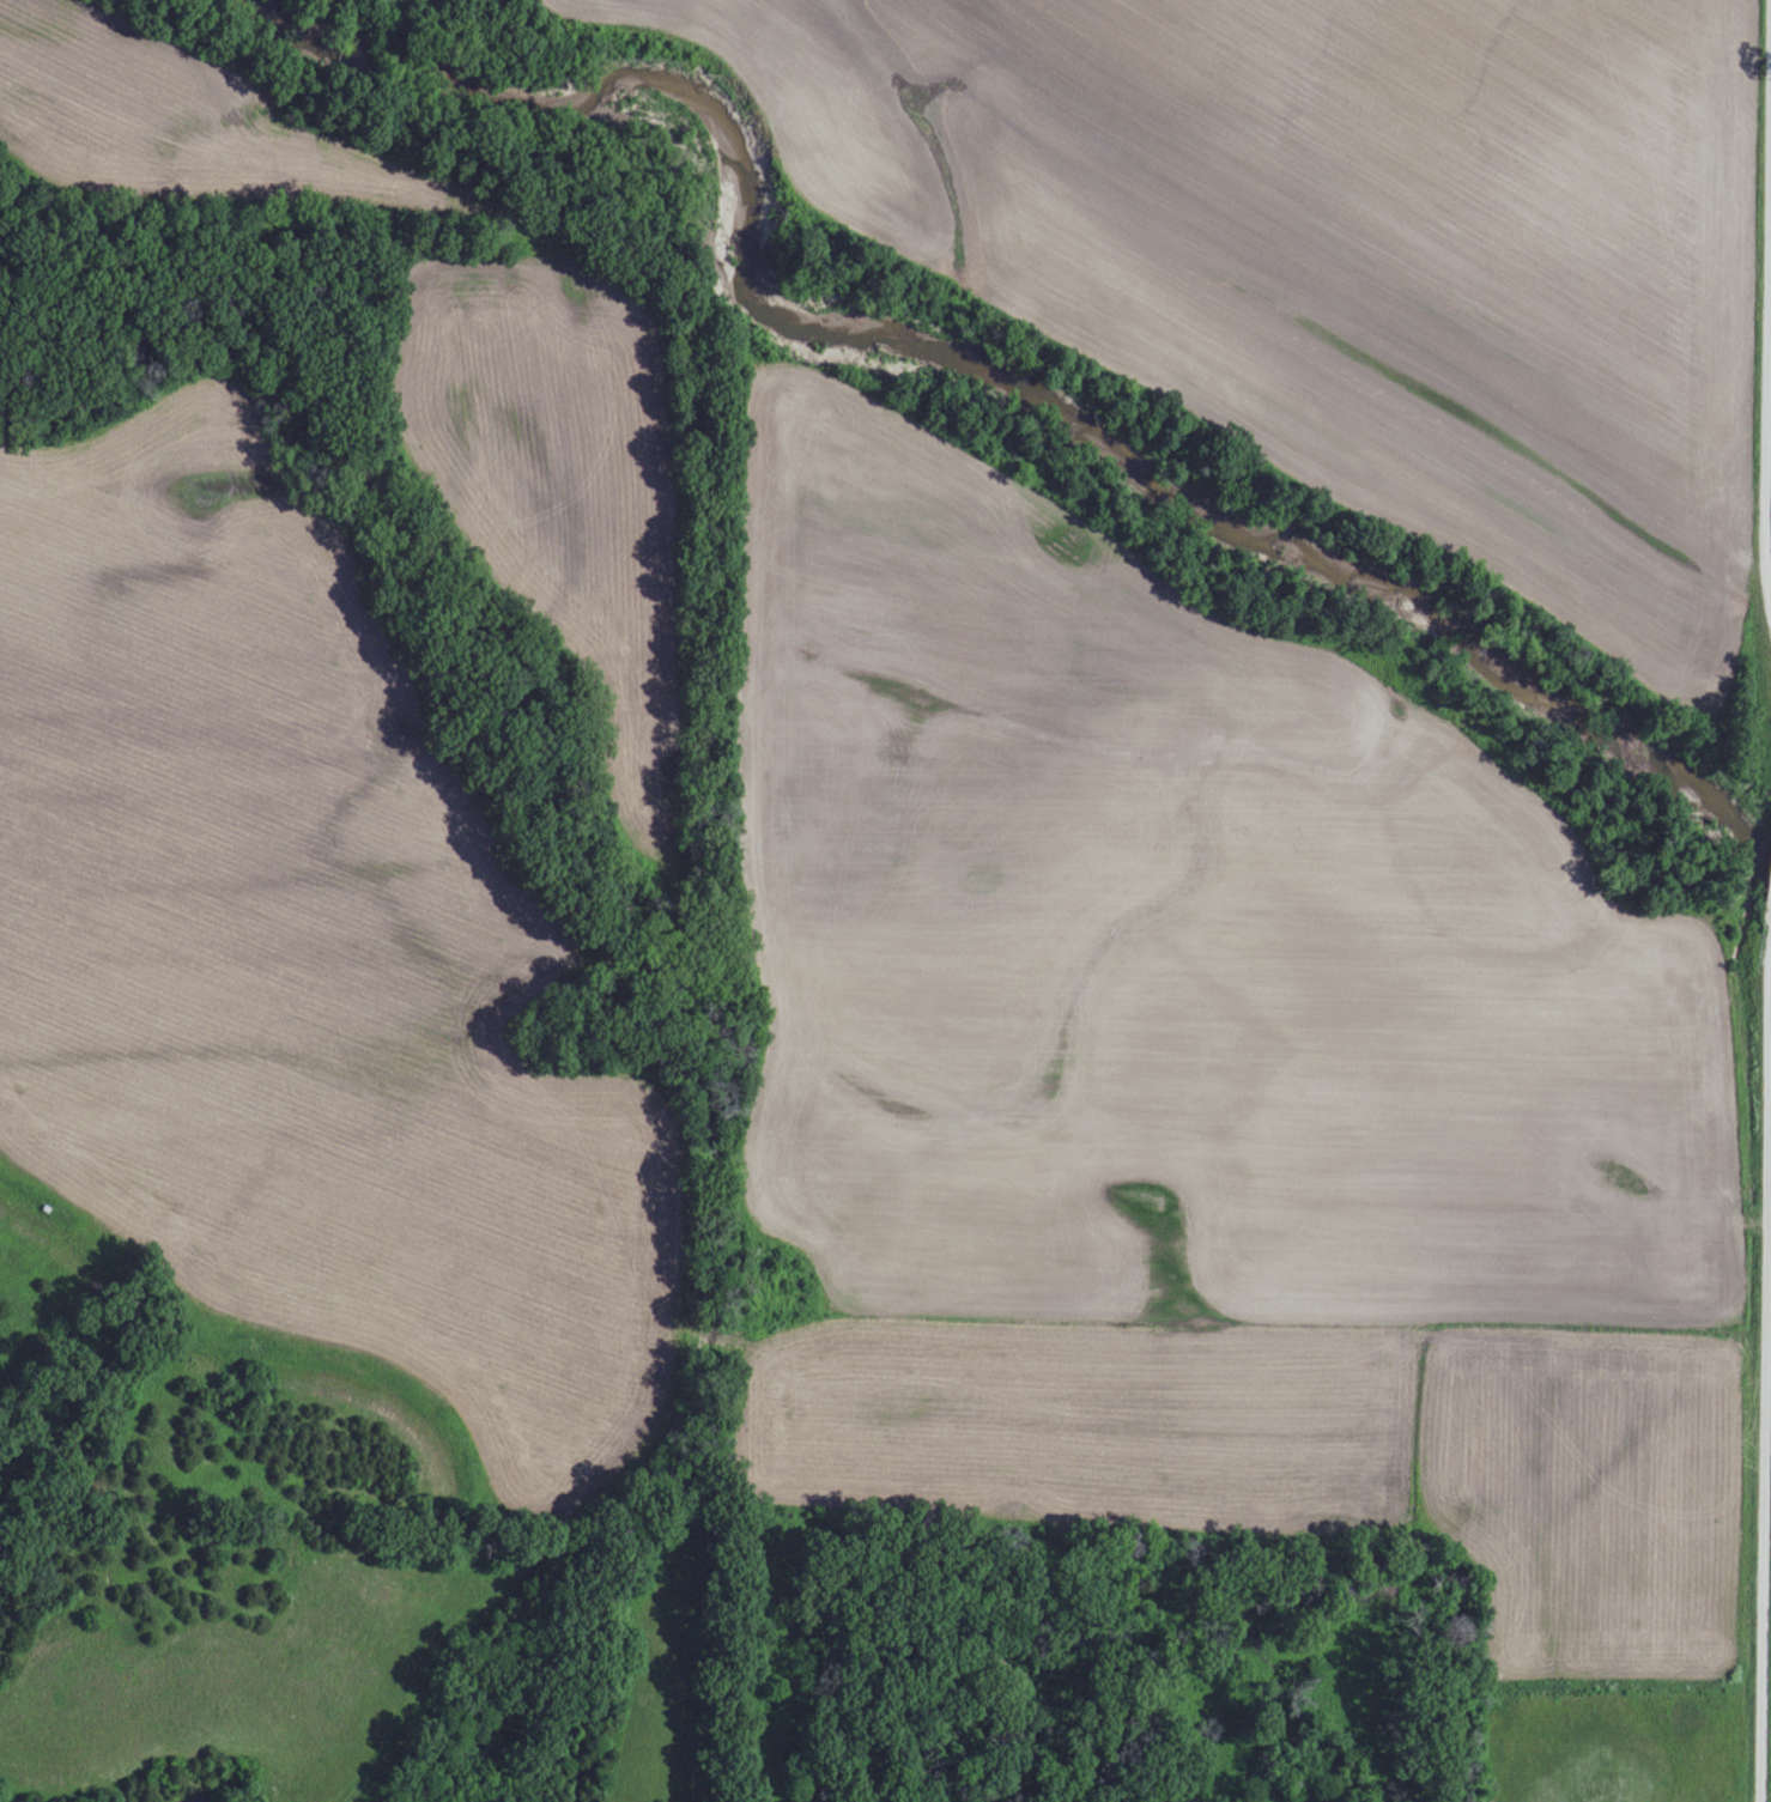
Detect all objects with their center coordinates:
road: (1766, 412)
road: (1770, 873)
road: (1770, 960)
road: (1766, 1524)

